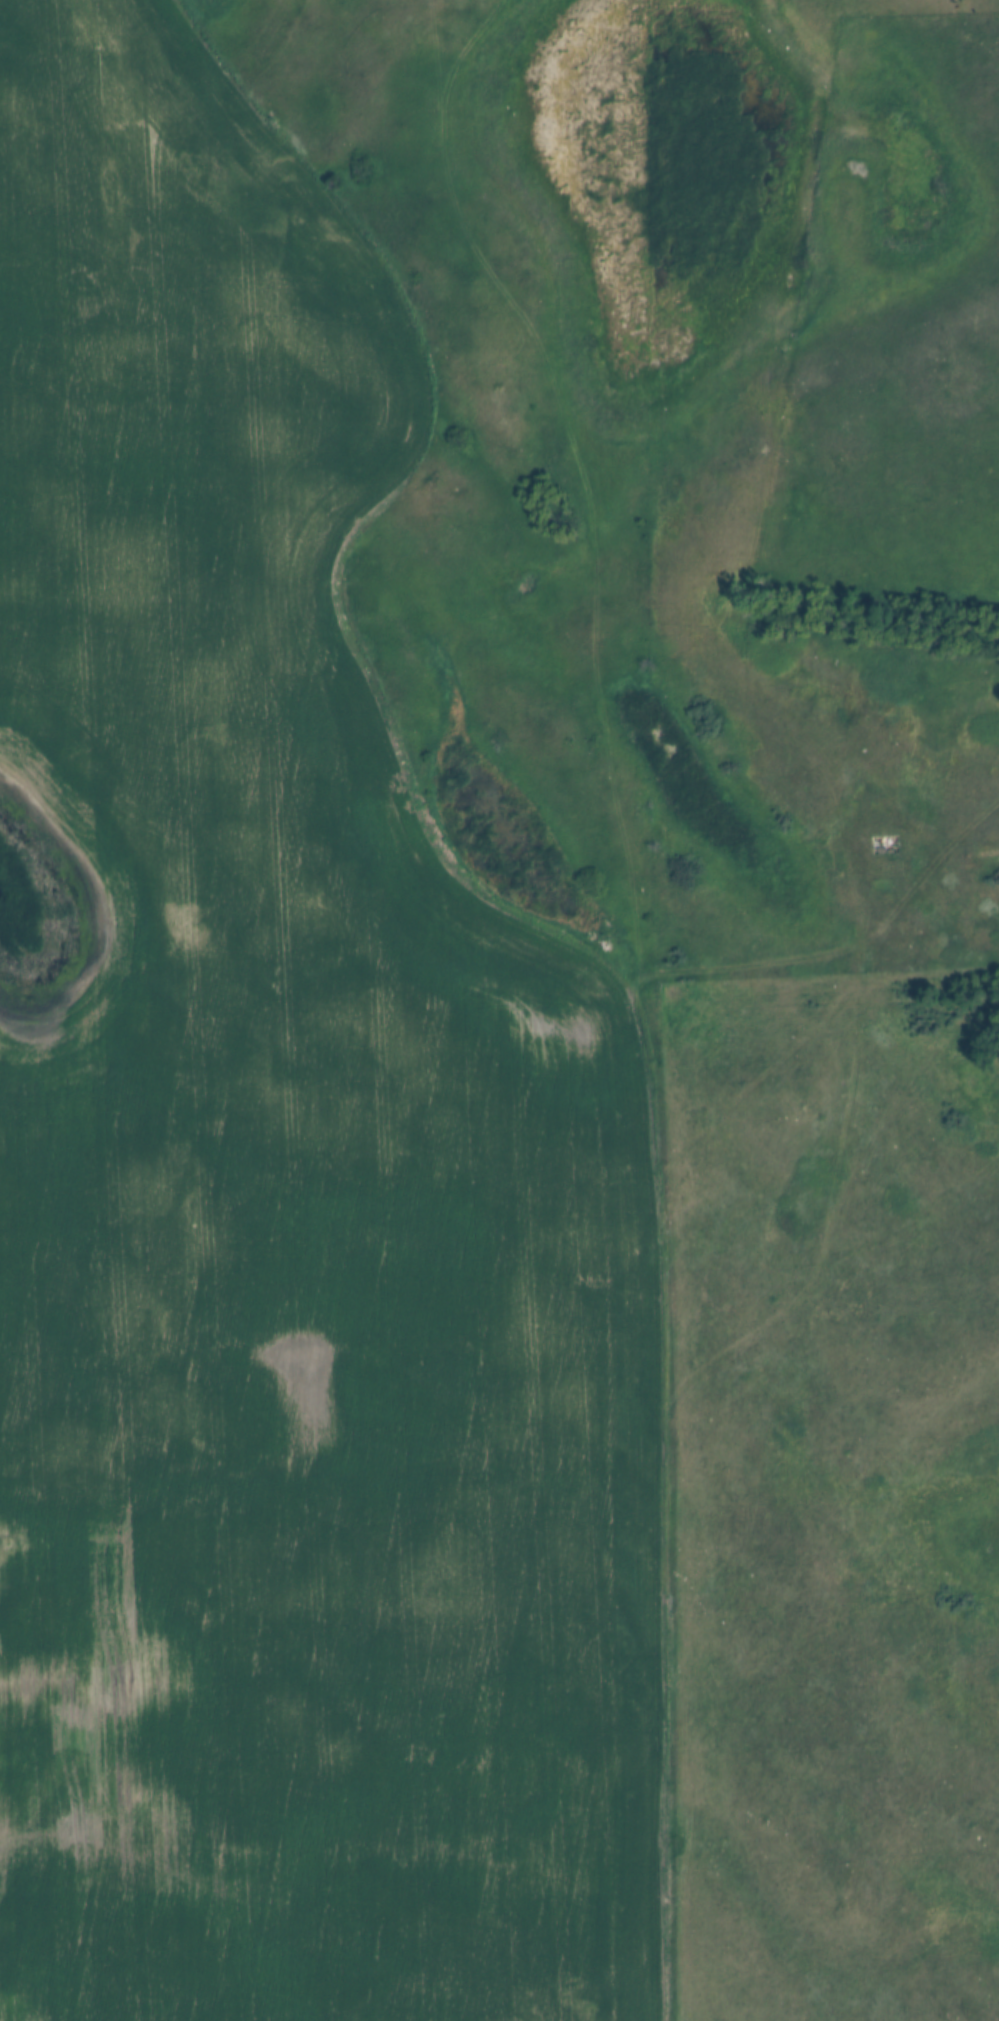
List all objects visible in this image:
road: (655, 1528)

